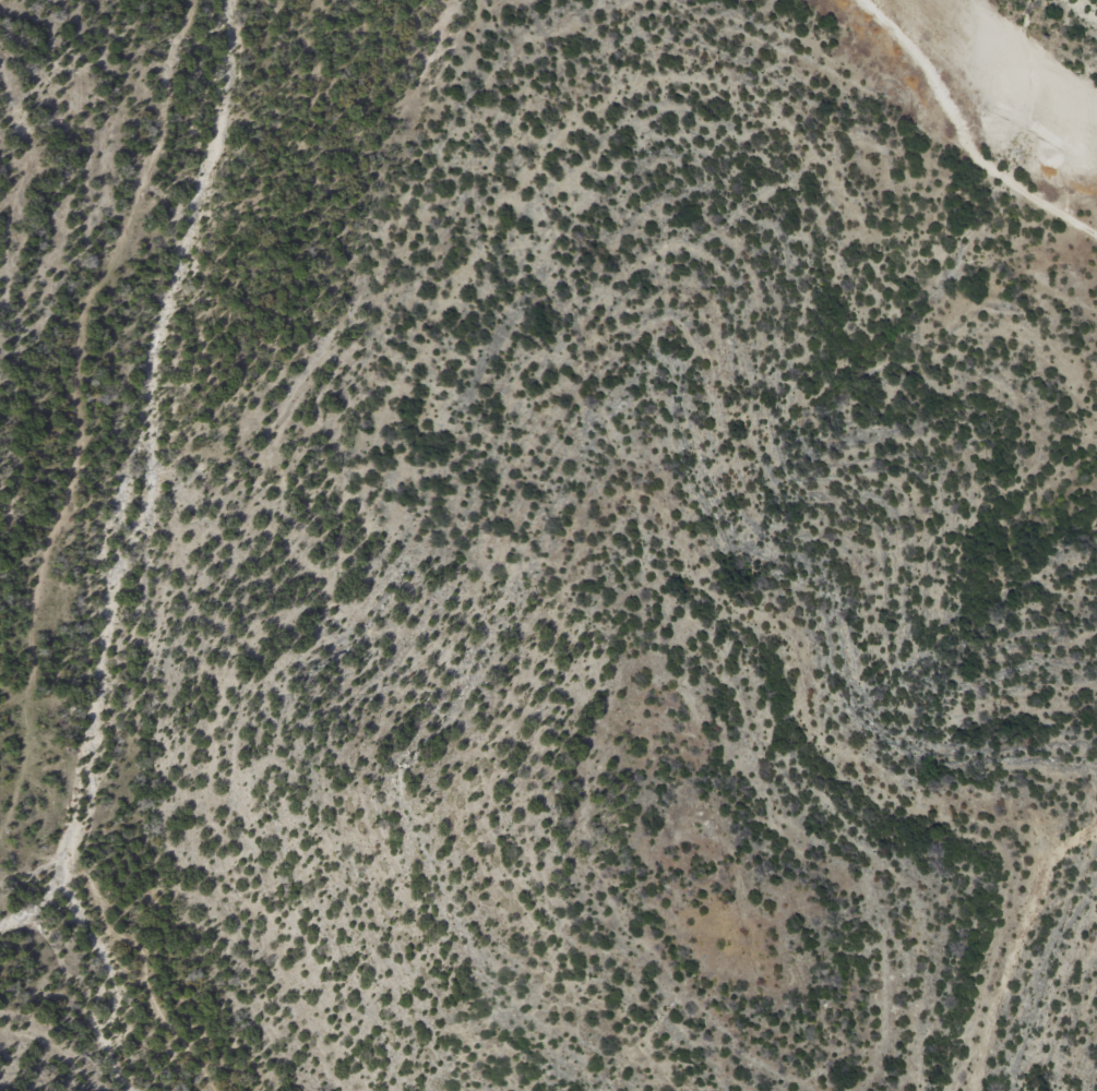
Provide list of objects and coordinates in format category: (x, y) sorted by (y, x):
road: (965, 132)

